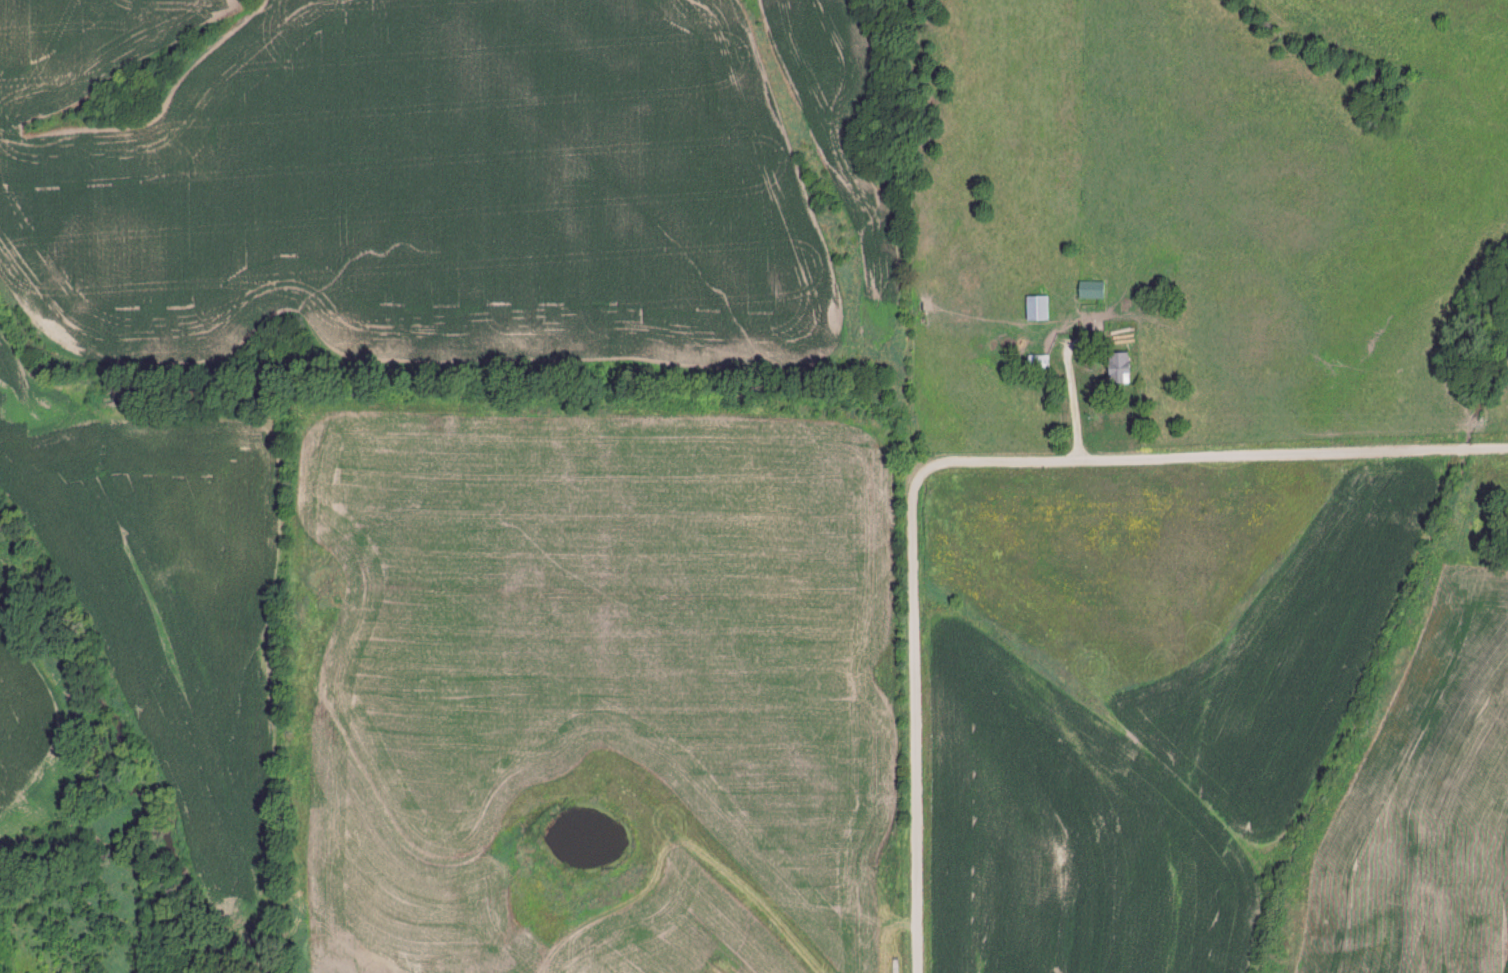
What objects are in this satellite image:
building: (1089, 289)
building: (968, 307)
building: (1035, 307)
building: (1036, 362)
building: (1116, 367)
road: (961, 461)

